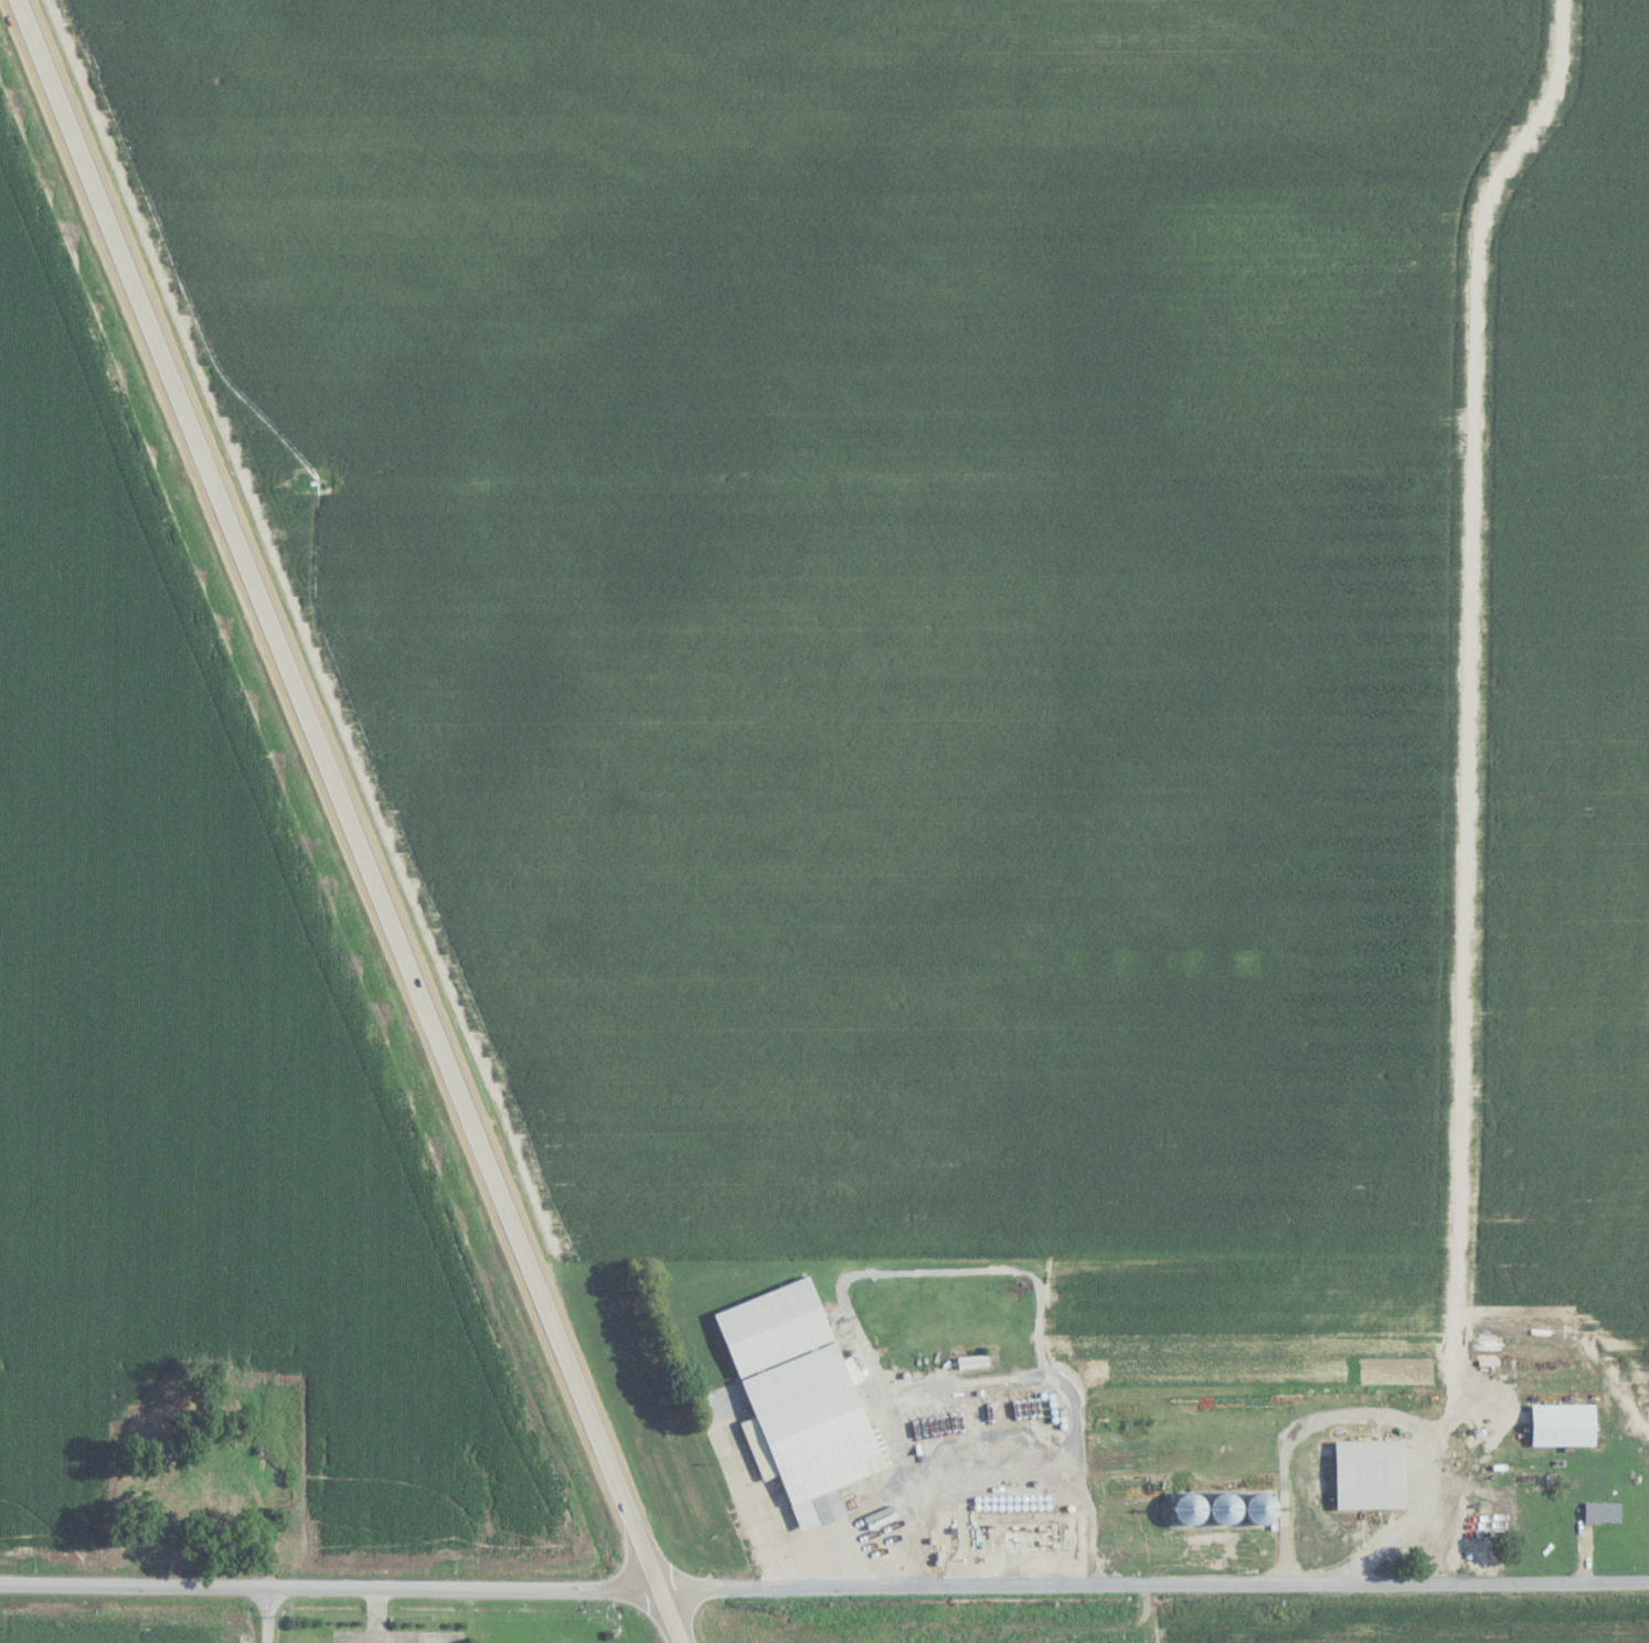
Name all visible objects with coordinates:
road: (1062, 794)
road: (349, 821)
building: (801, 1400)
building: (1565, 1425)
building: (1371, 1474)
building: (1509, 1501)
building: (1230, 1504)
building: (1604, 1513)
building: (1020, 1537)
road: (823, 1586)
road: (265, 1615)

